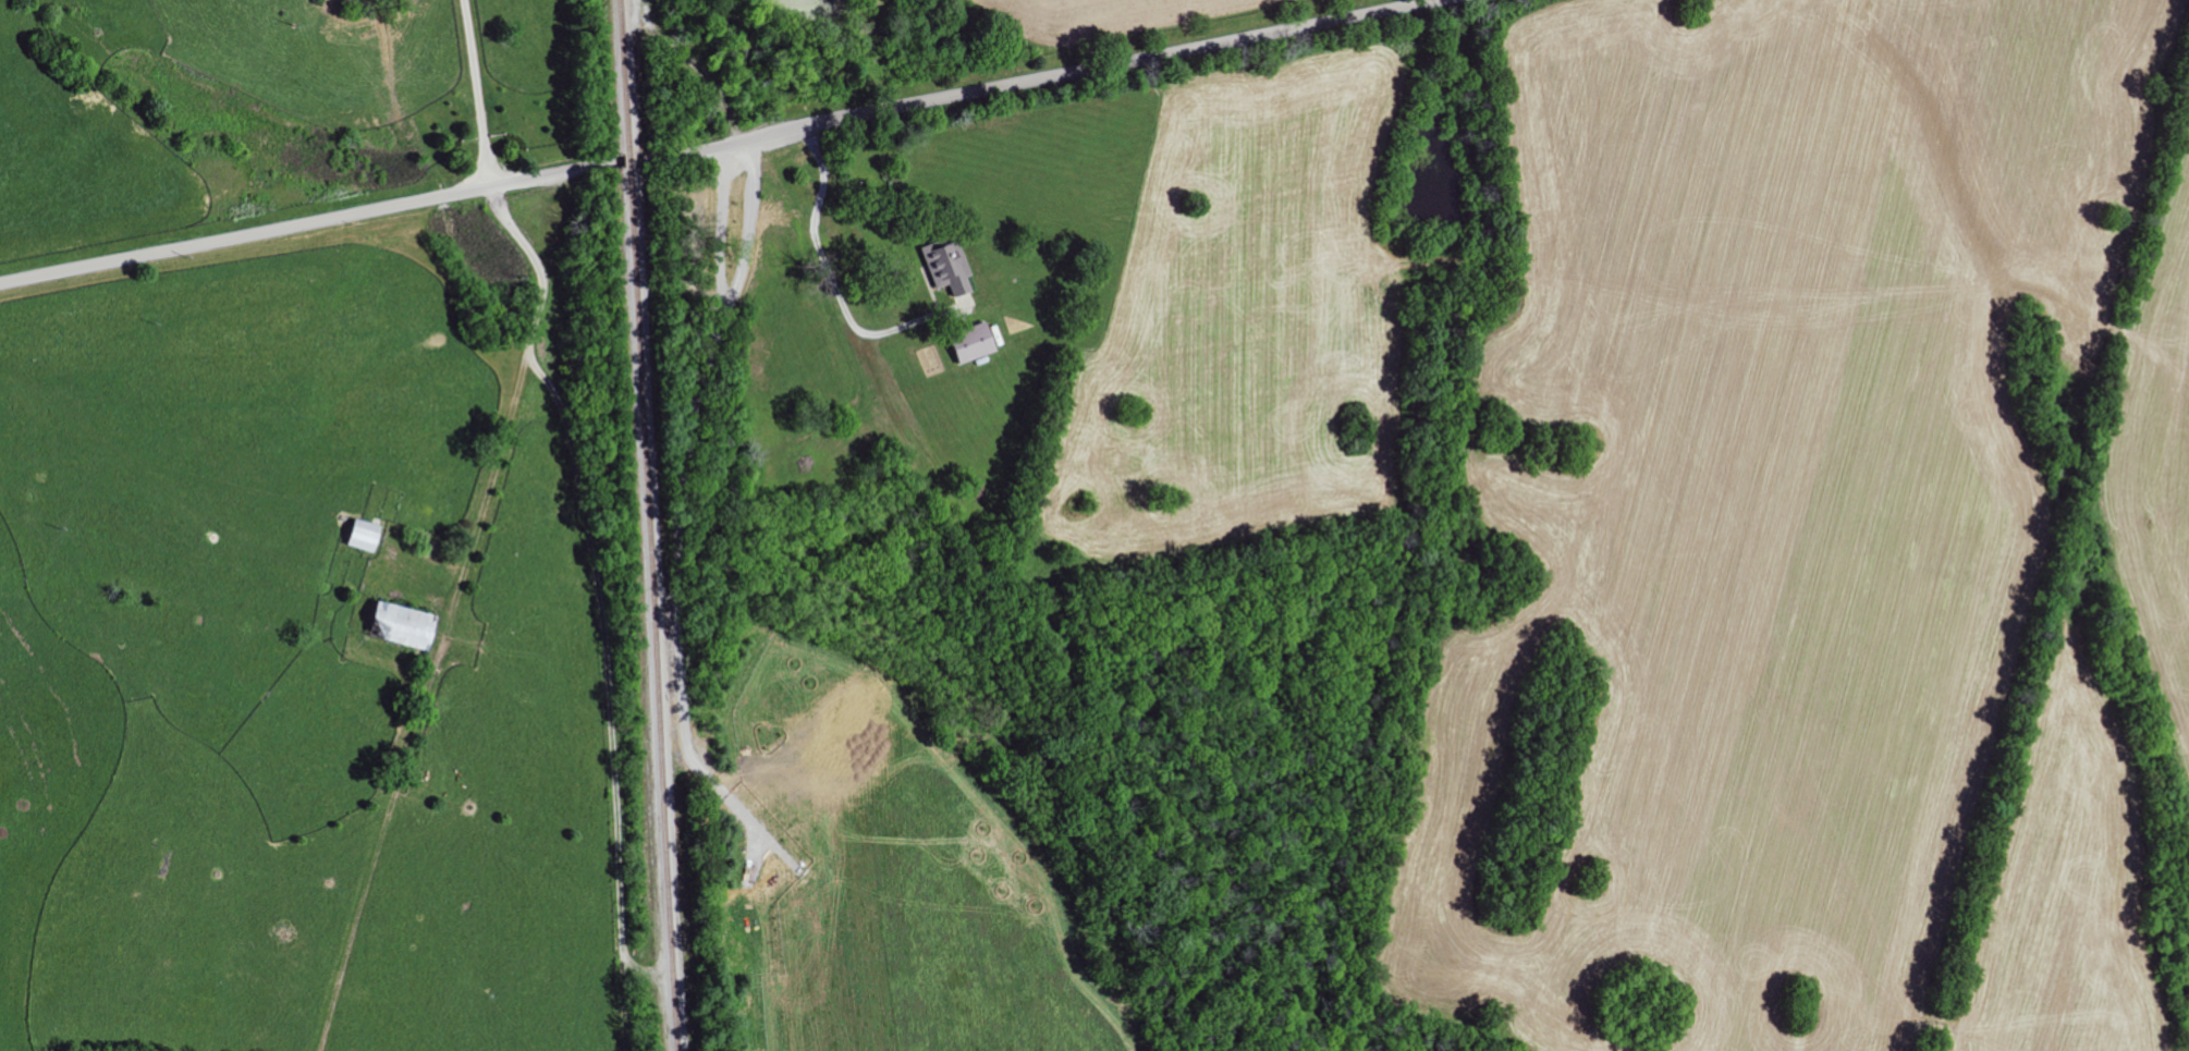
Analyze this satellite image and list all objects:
railway: (623, 74)
road: (721, 145)
railway: (628, 158)
road: (811, 227)
building: (946, 267)
building: (968, 342)
road: (472, 524)
building: (357, 535)
railway: (649, 610)
building: (396, 624)
road: (608, 691)

